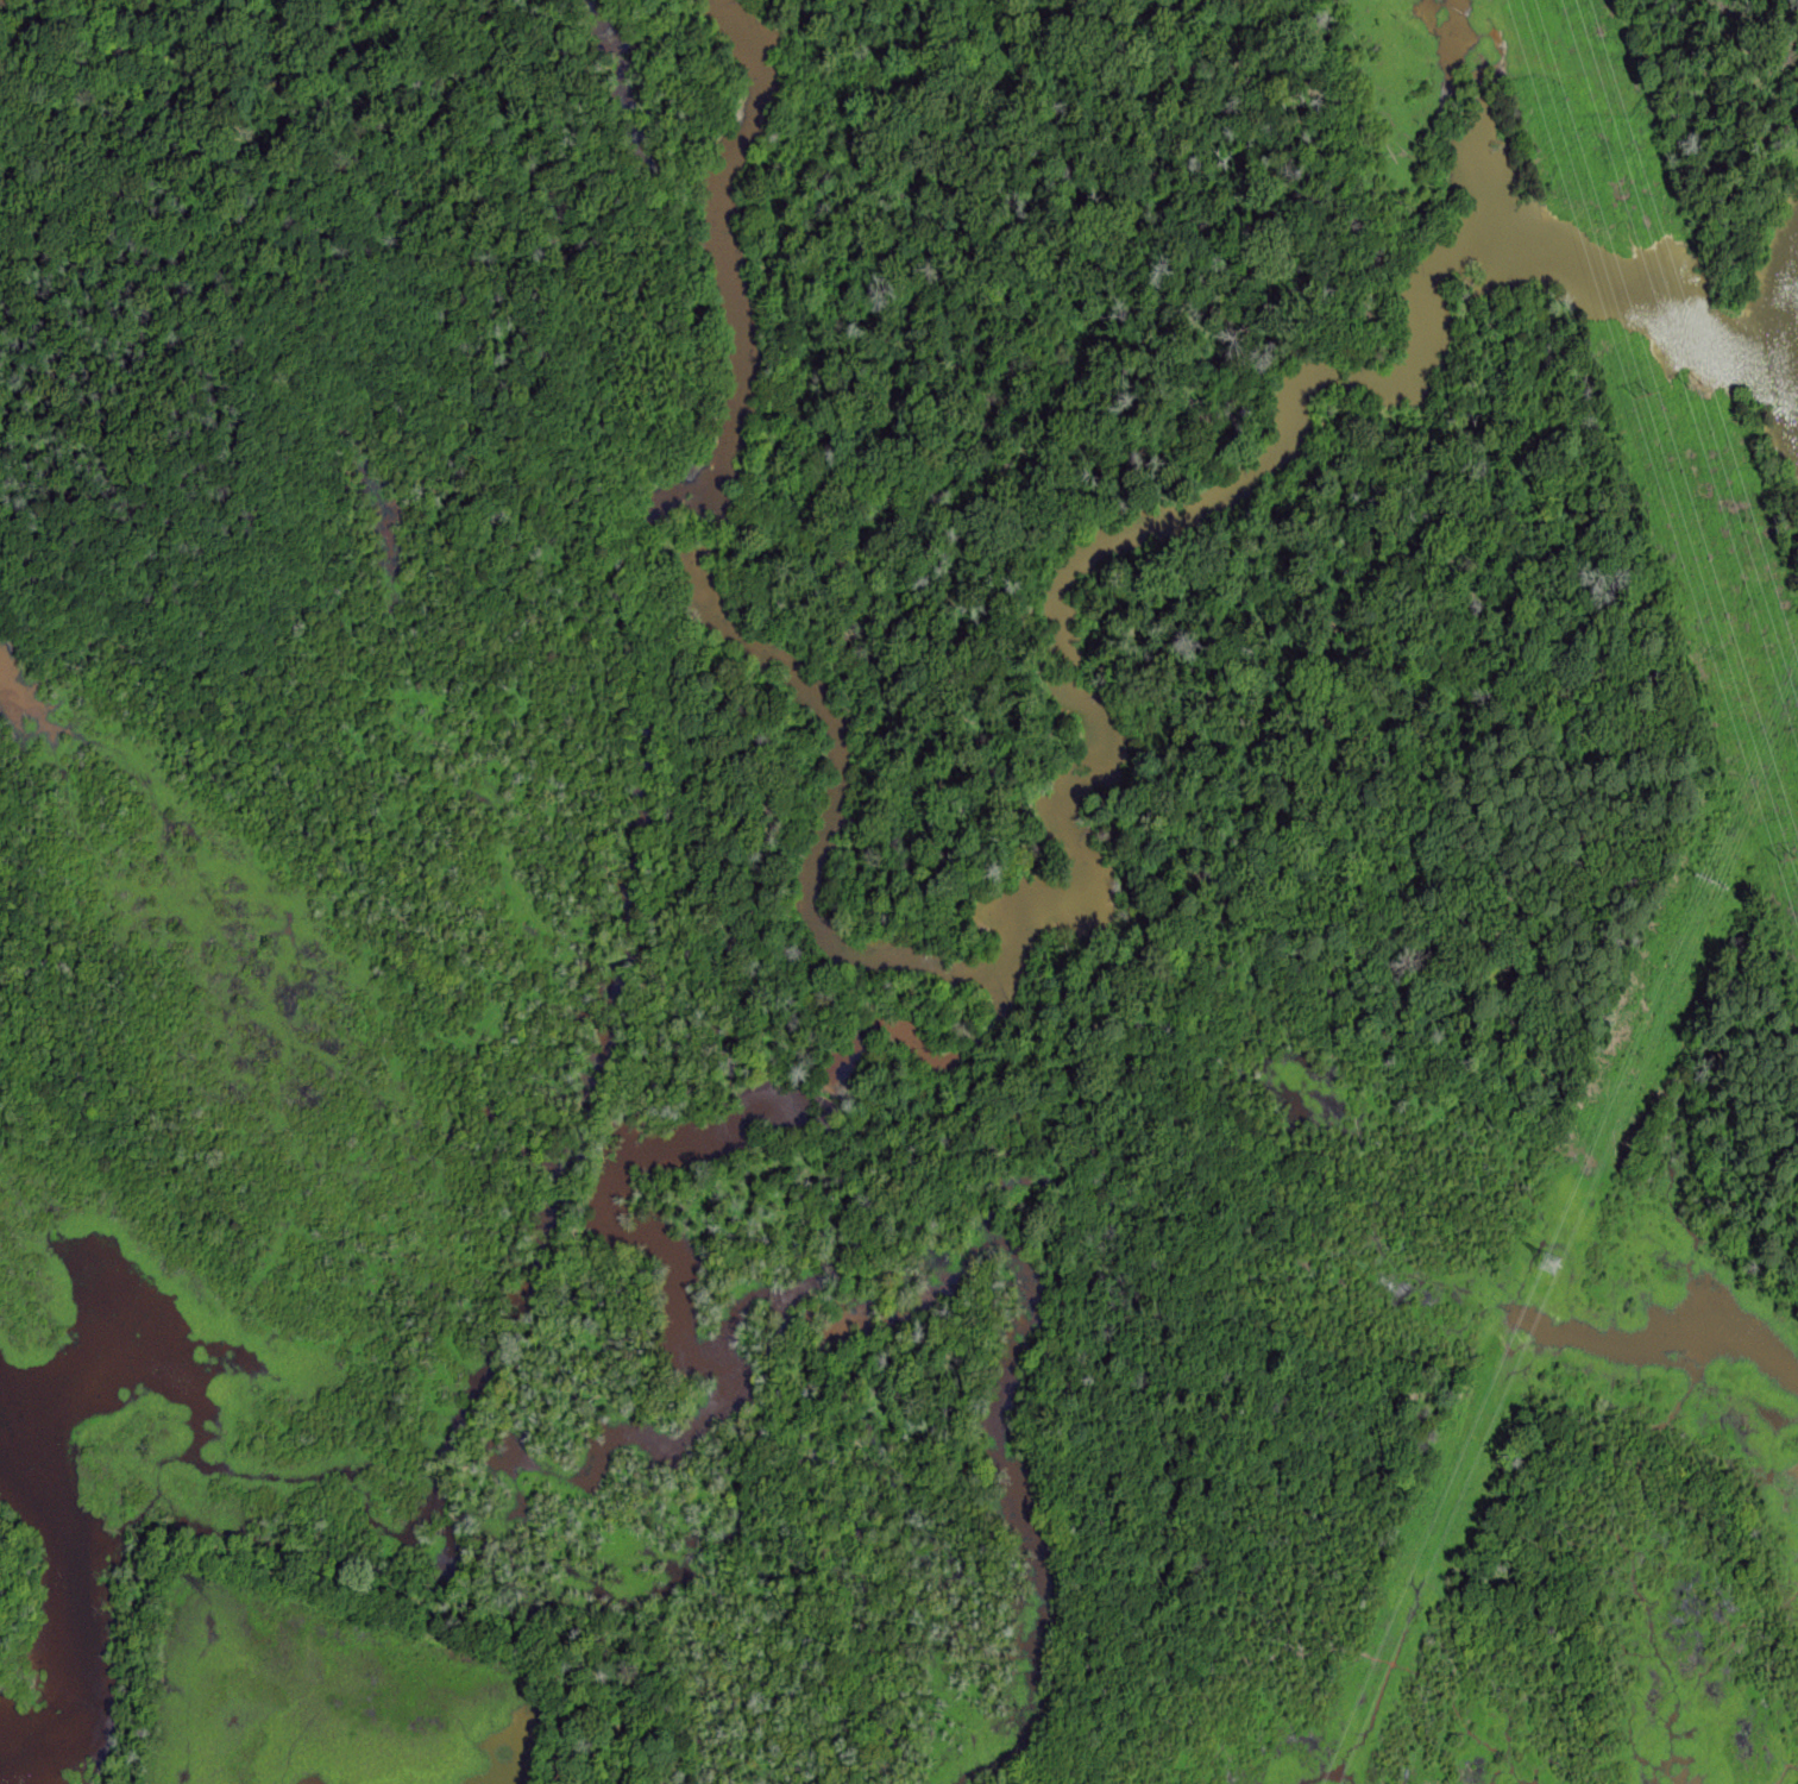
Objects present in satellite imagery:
river: (1797, 350)
power tower: (1691, 381)
power tower: (1637, 394)
power tower: (1797, 861)
power tower: (1557, 1261)

